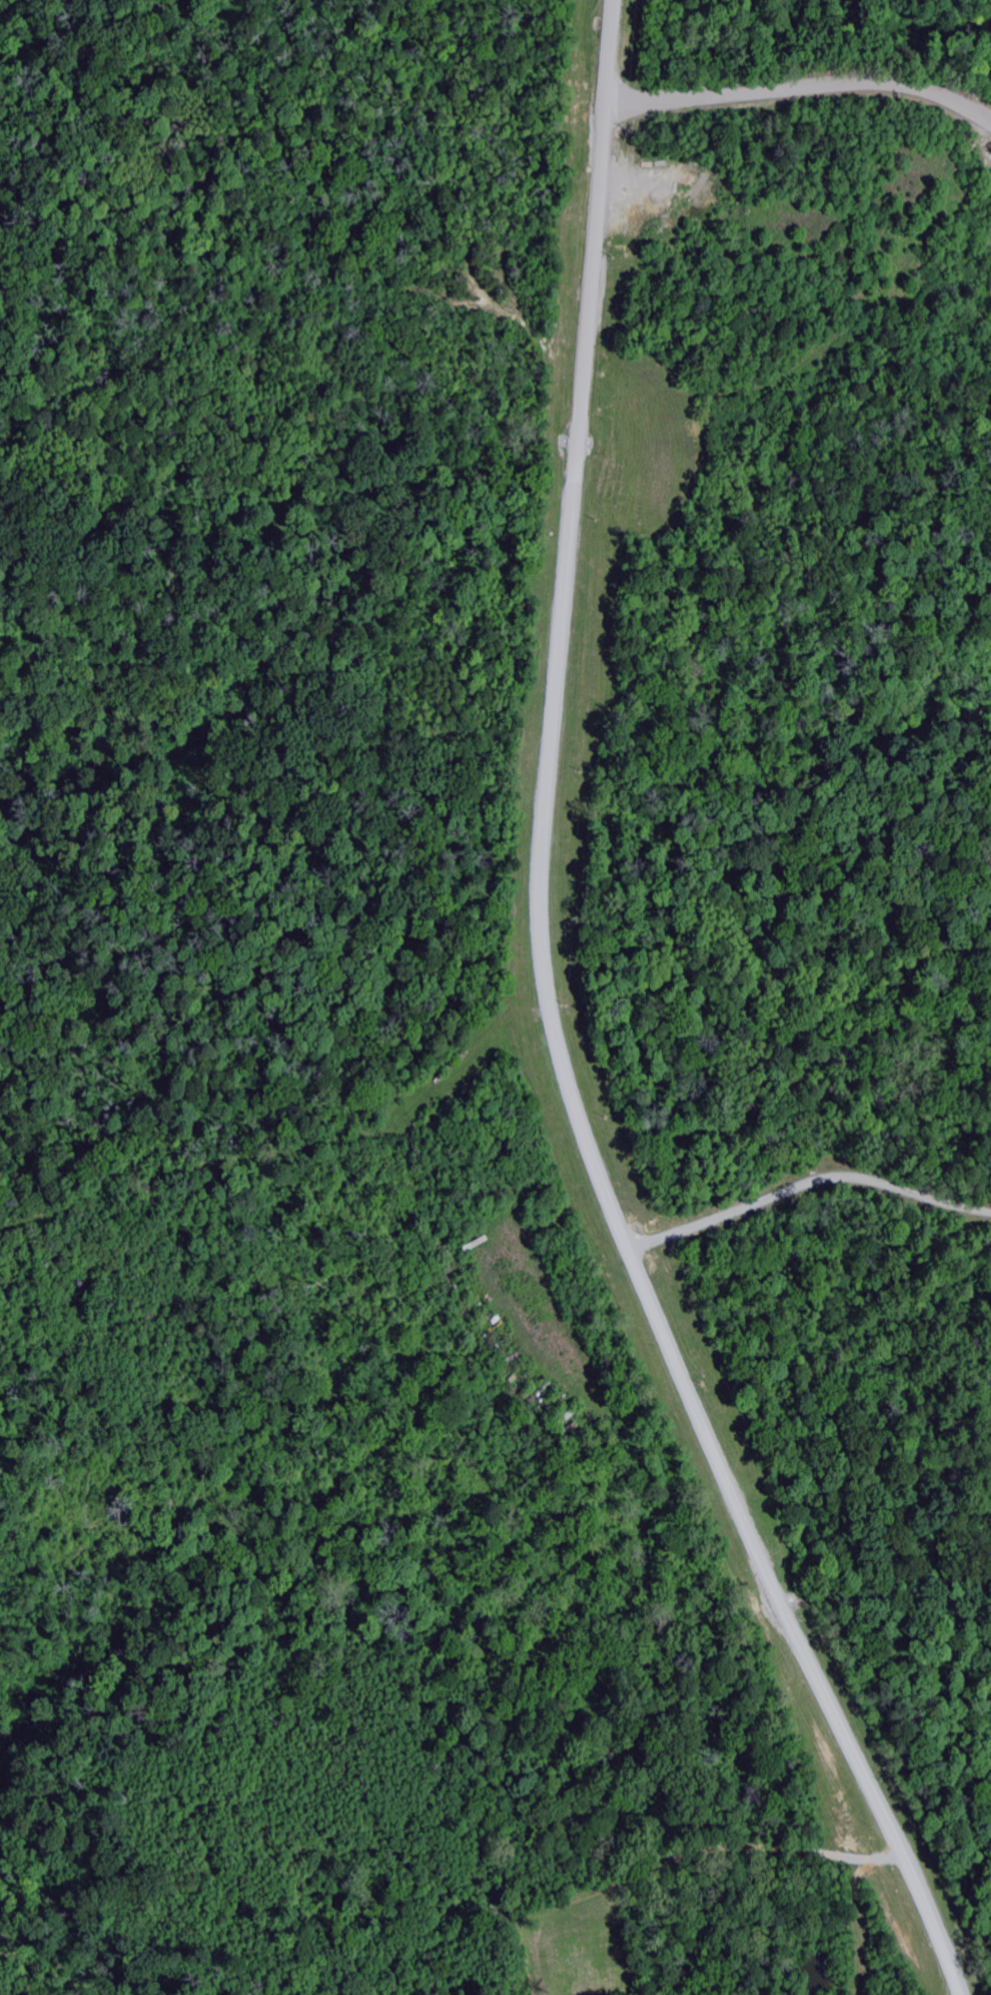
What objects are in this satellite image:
road: (800, 87)
road: (551, 1037)
road: (807, 1187)
park: (588, 1950)

